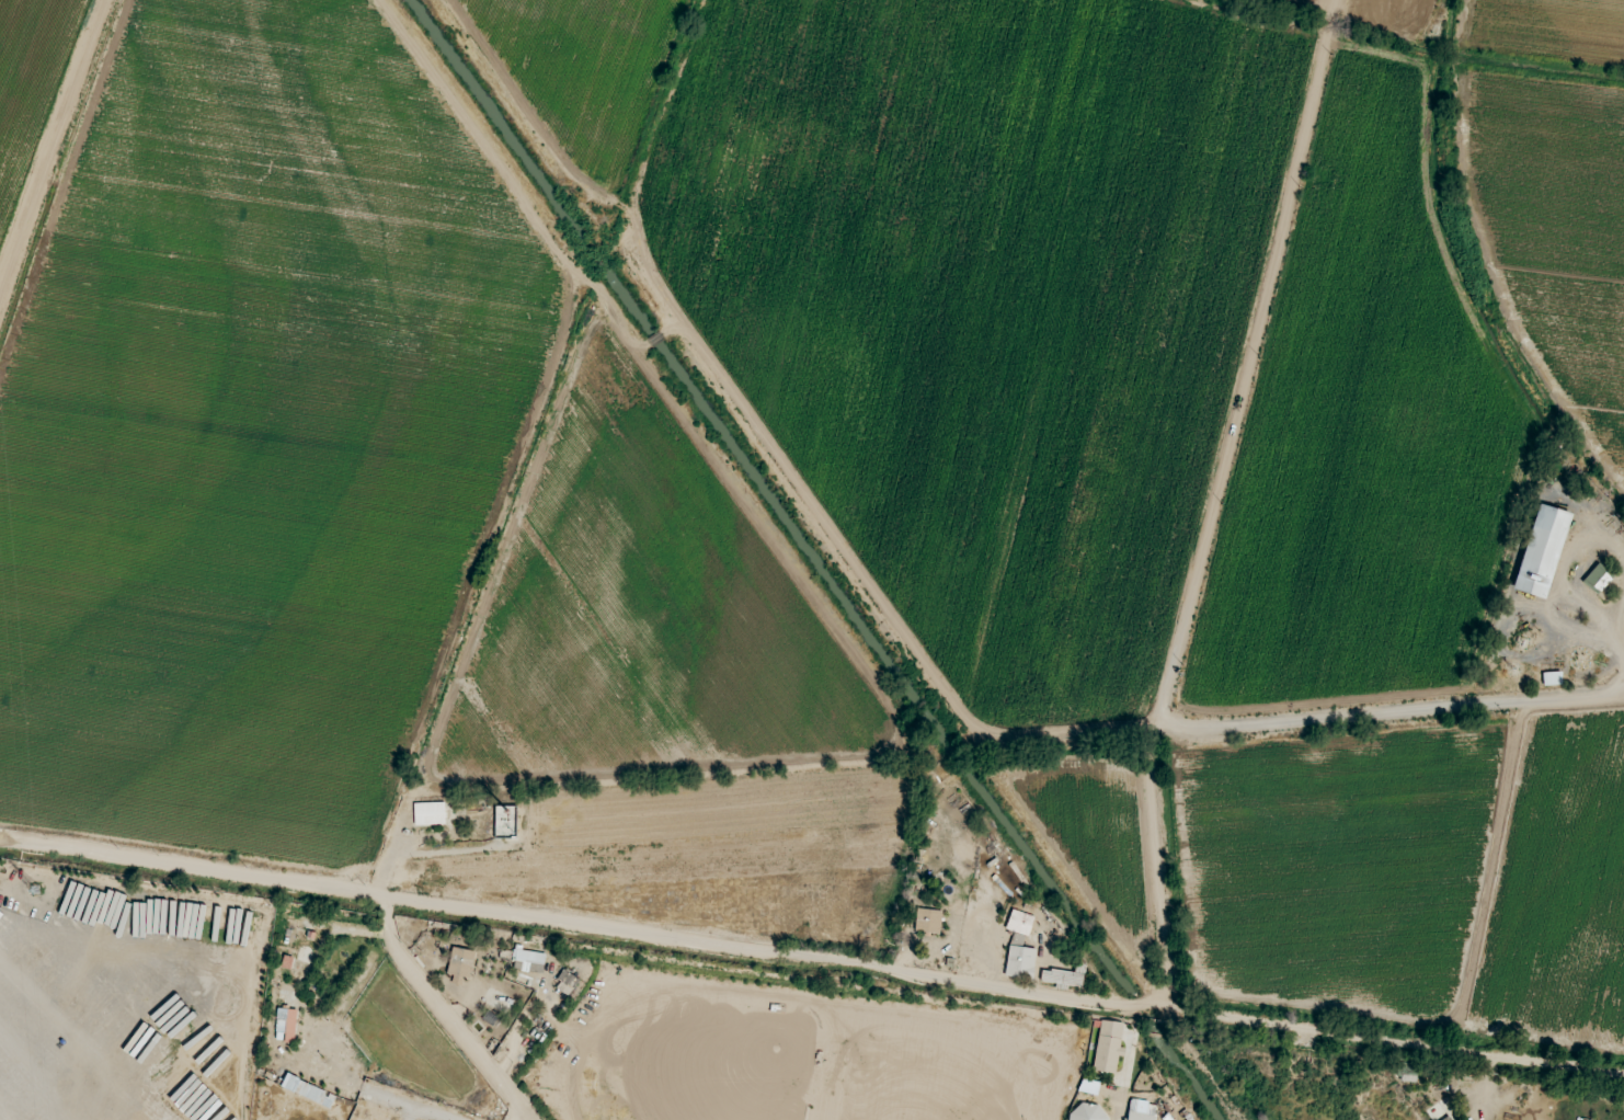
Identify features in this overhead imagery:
crop: (239, 411)
road: (1213, 503)
road: (1610, 695)
power tower: (34, 896)
park: (936, 1076)

